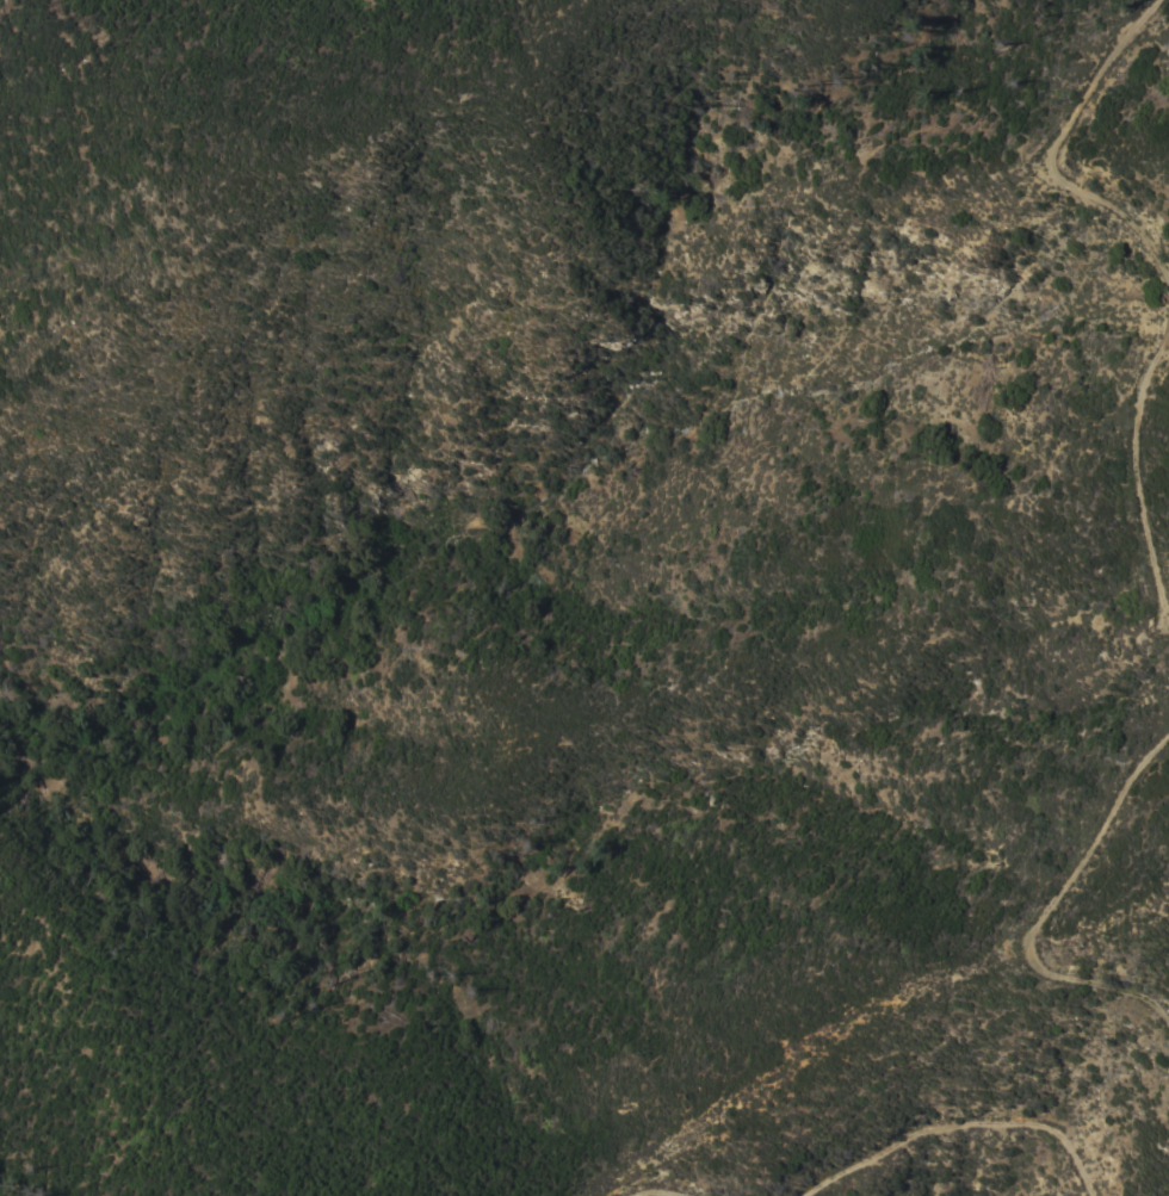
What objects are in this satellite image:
road: (1069, 137)
road: (1142, 466)
road: (1040, 909)
road: (966, 1126)
road: (658, 1189)

